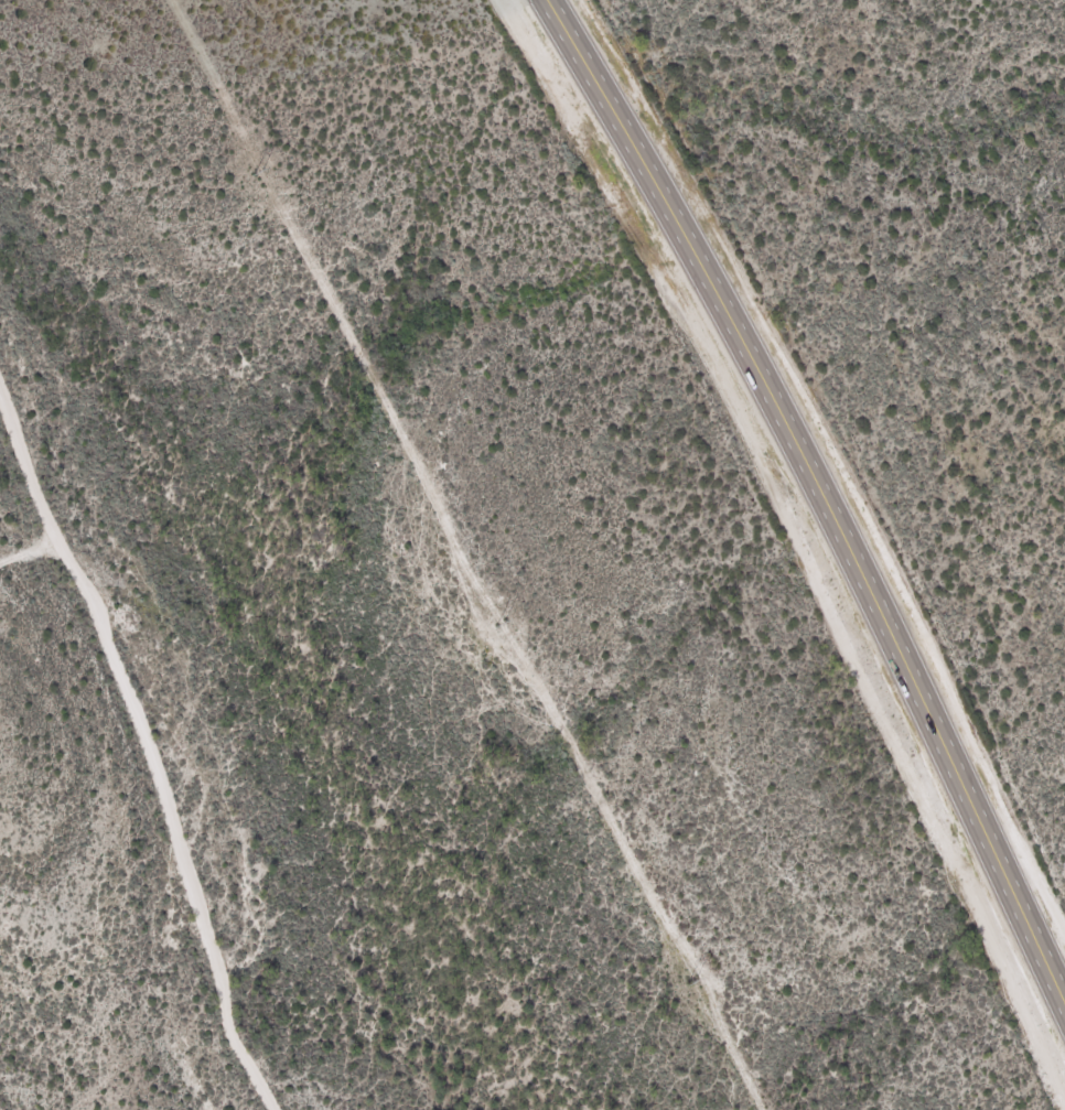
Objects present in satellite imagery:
power tower: (256, 174)
road: (820, 488)
power tower: (496, 625)
road: (166, 798)
power tower: (688, 983)

